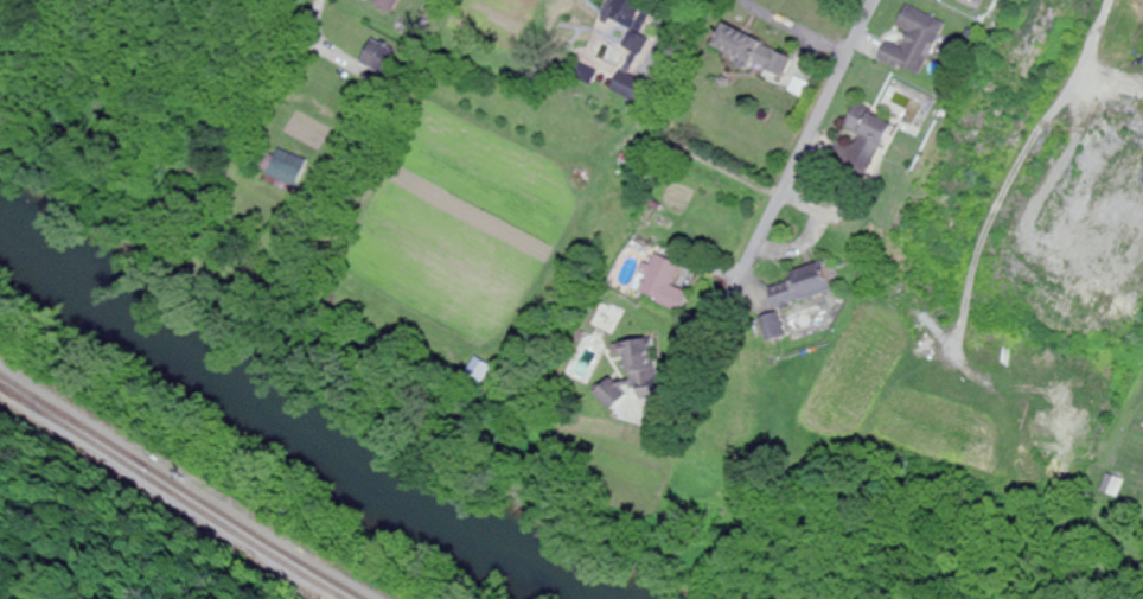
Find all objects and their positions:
building: (392, 6)
building: (919, 44)
building: (639, 51)
building: (759, 53)
building: (384, 58)
building: (592, 76)
road: (812, 138)
building: (874, 139)
building: (1110, 152)
building: (286, 170)
building: (669, 282)
building: (806, 286)
building: (779, 327)
building: (651, 369)
building: (485, 370)
building: (620, 393)
river: (293, 420)
building: (1120, 486)
railway: (168, 492)

